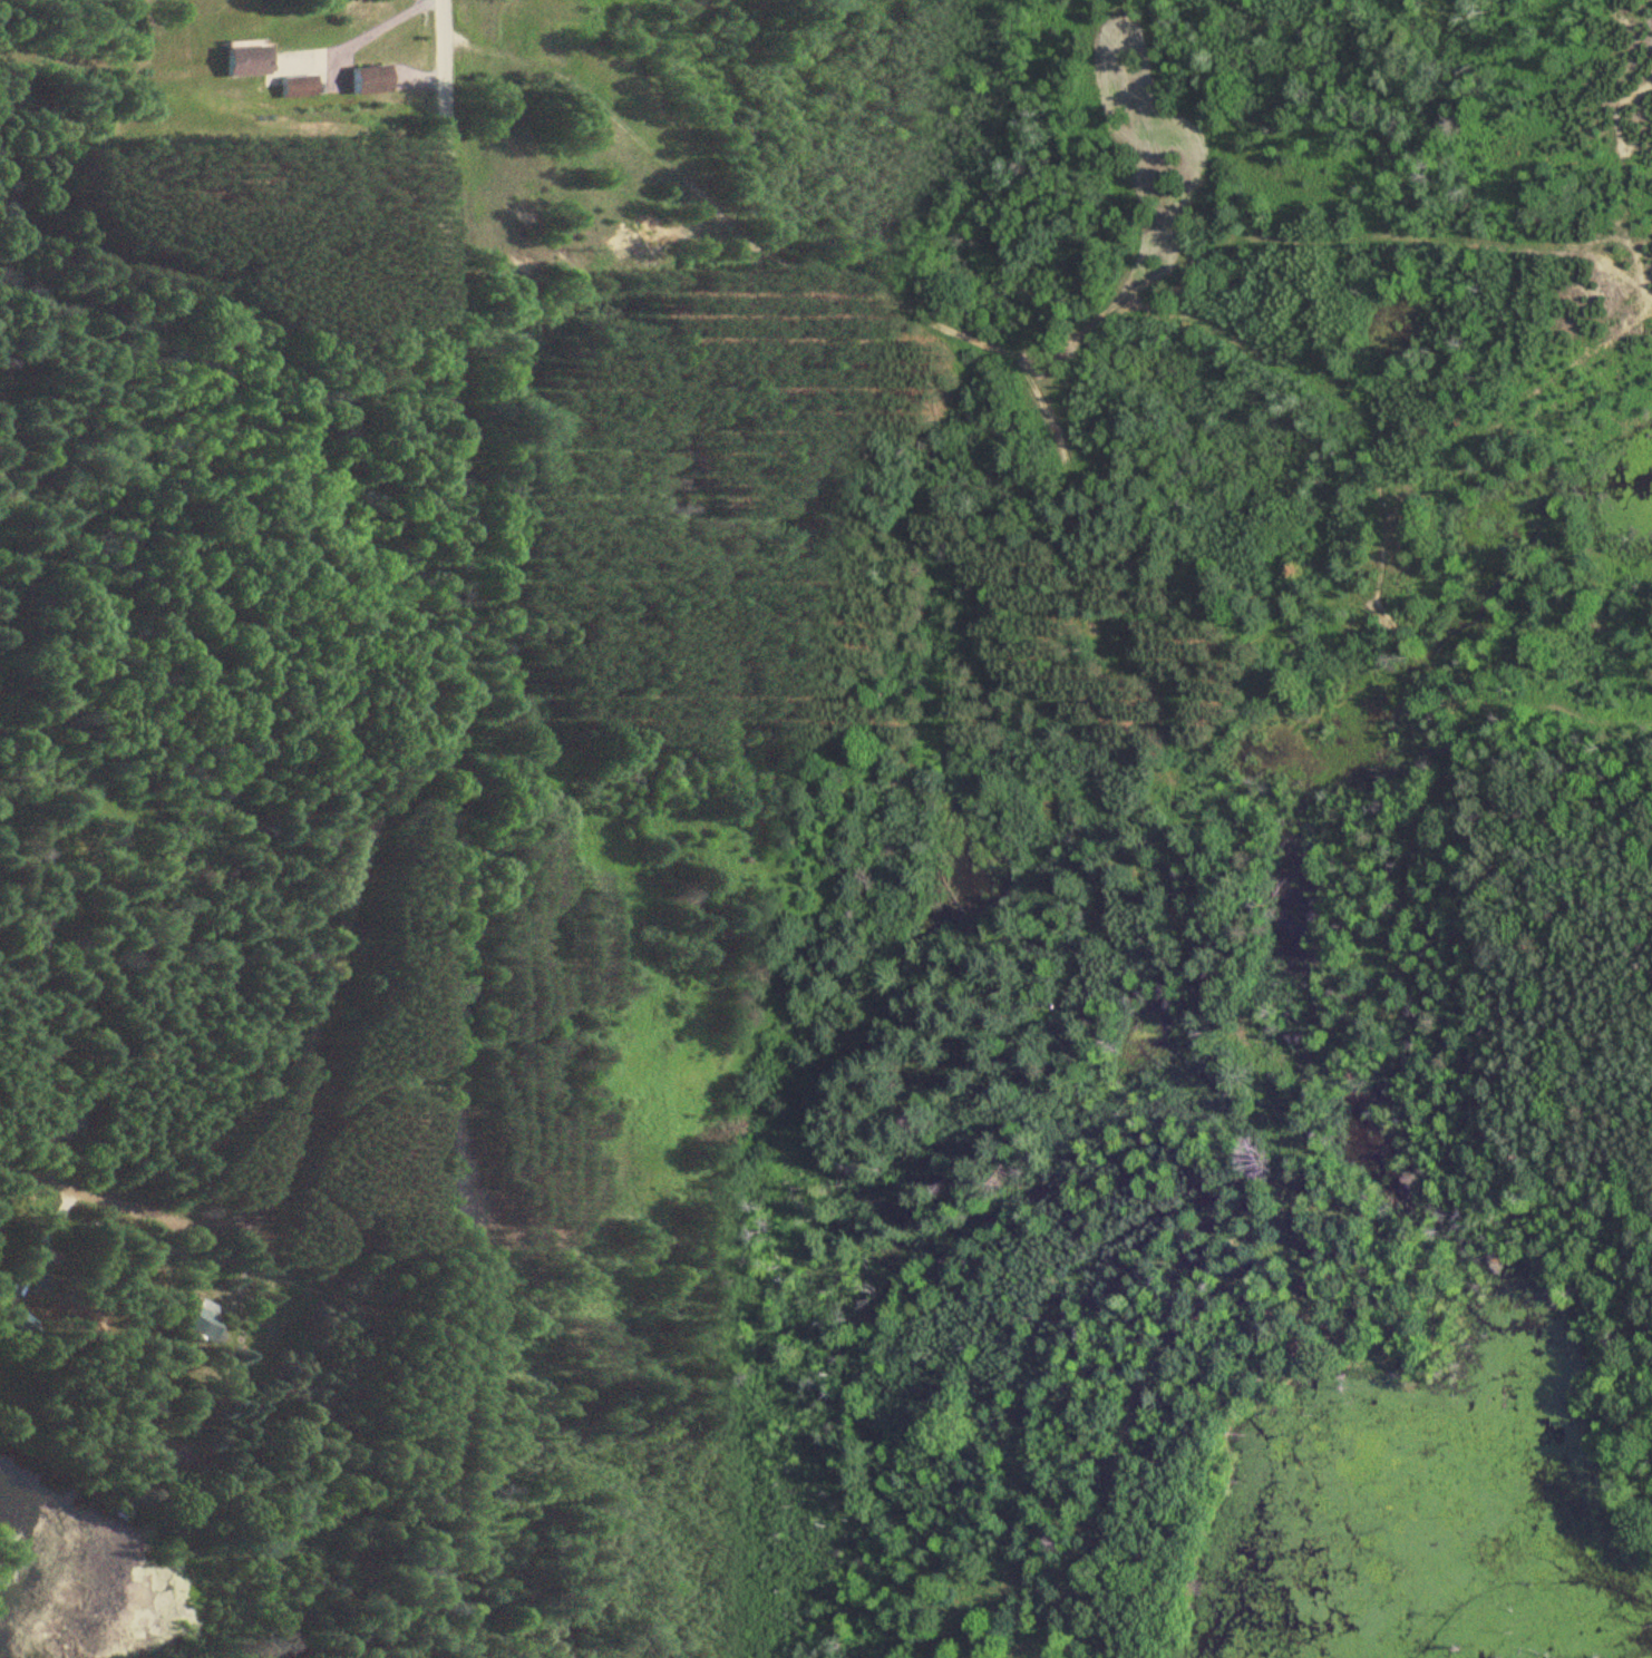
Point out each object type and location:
building: (244, 58)
building: (369, 79)
building: (298, 86)
road: (445, 367)
road: (446, 973)
road: (292, 1088)
building: (70, 1123)
building: (204, 1319)

